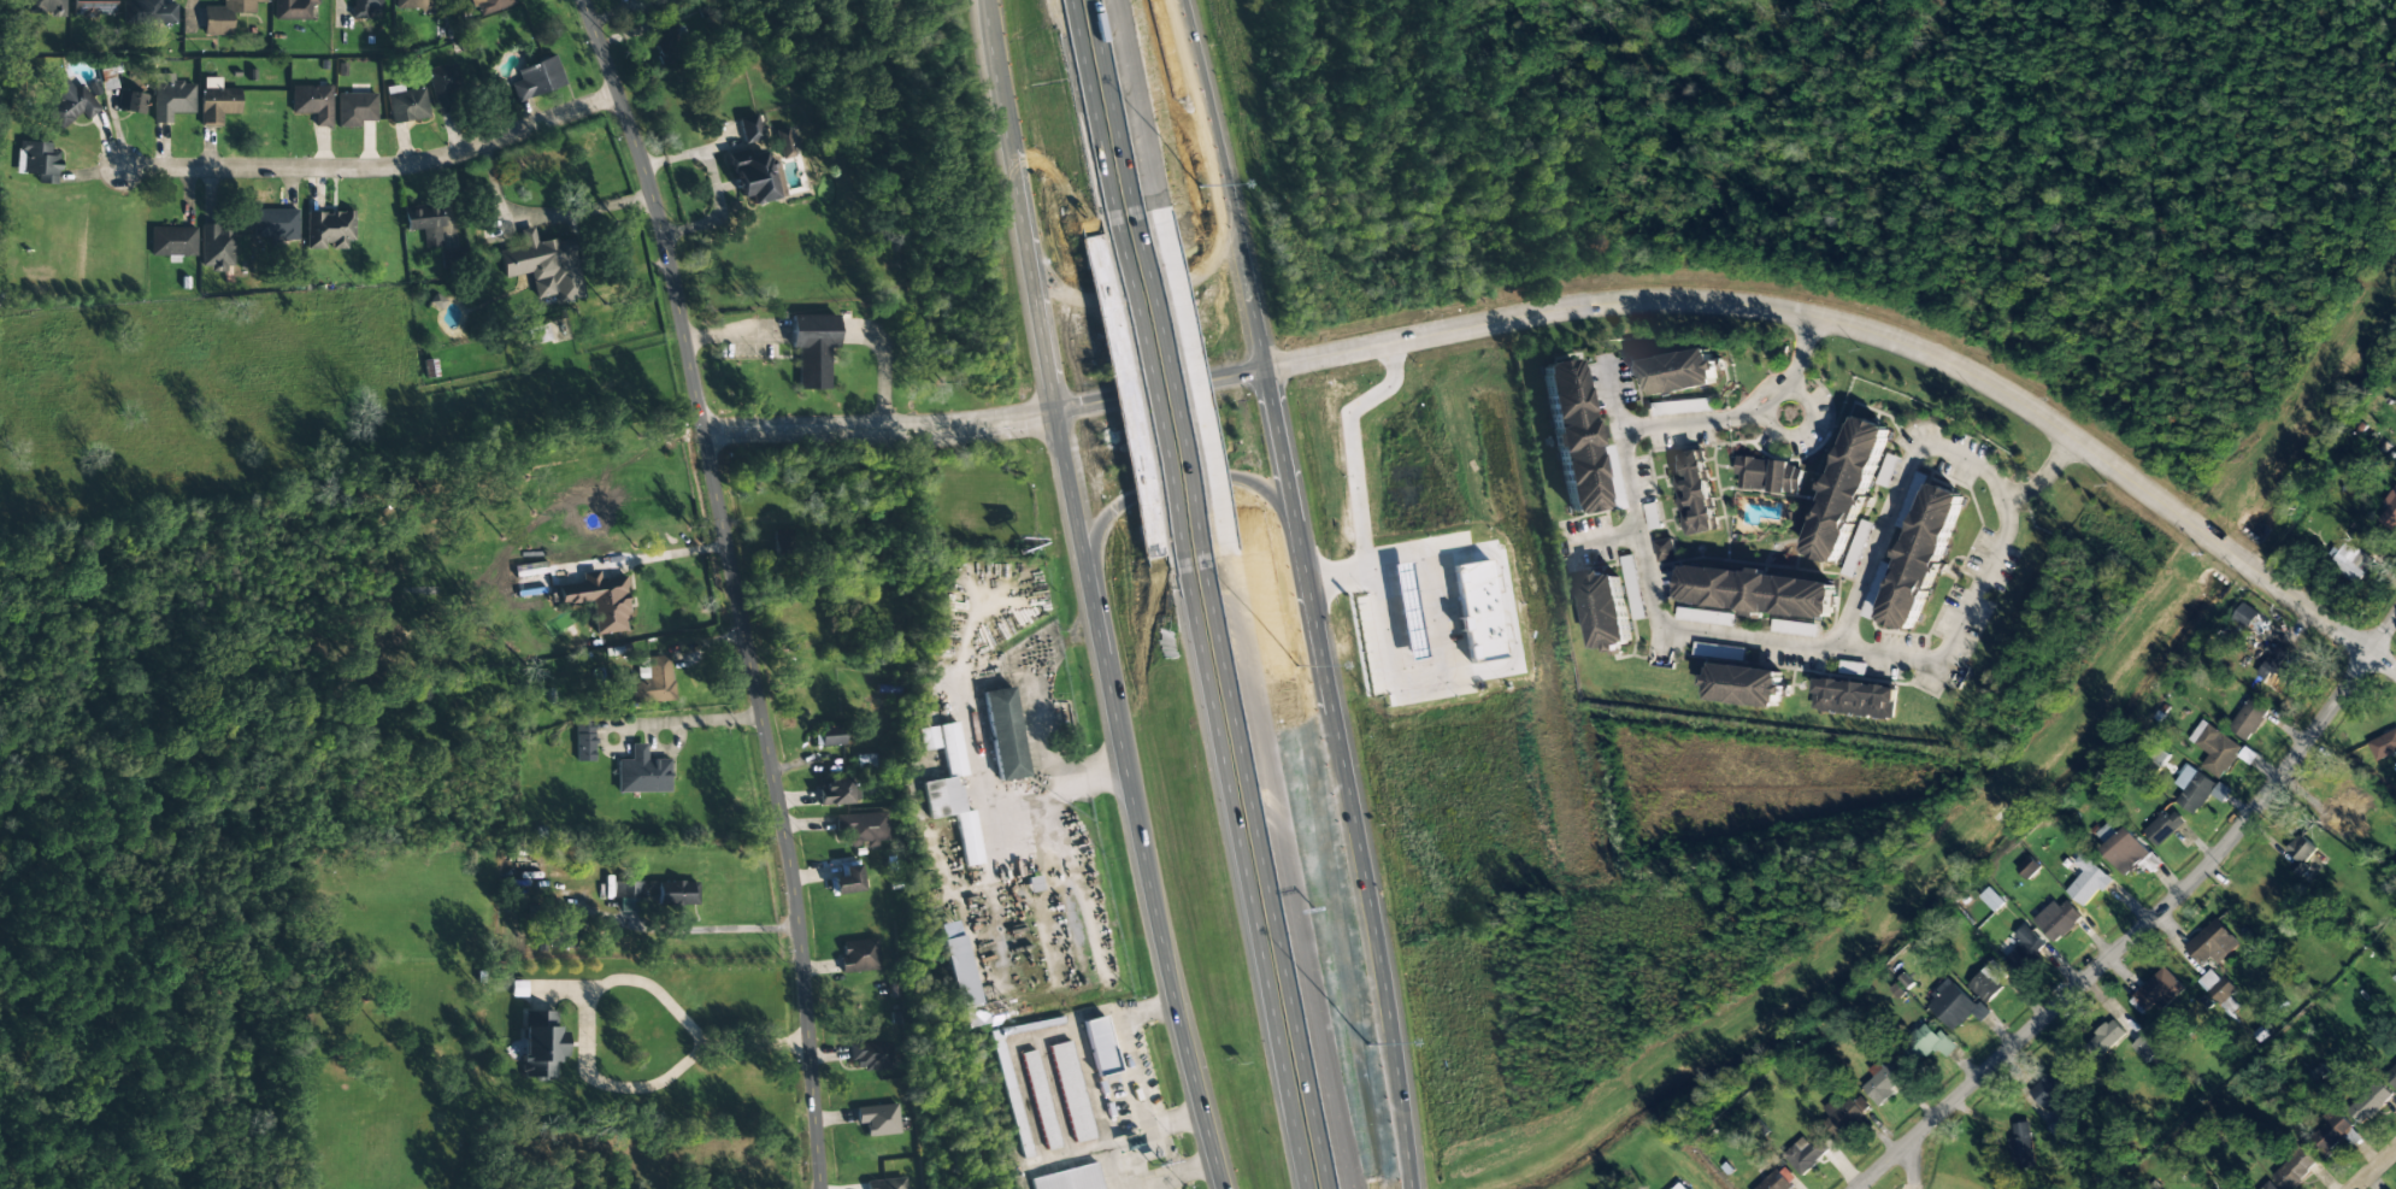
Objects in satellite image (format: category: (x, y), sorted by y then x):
building: (649, 0)
building: (416, 4)
building: (93, 6)
building: (490, 6)
building: (45, 7)
building: (364, 7)
building: (293, 8)
building: (147, 12)
building: (225, 16)
building: (665, 39)
building: (537, 78)
building: (445, 88)
building: (171, 100)
building: (217, 101)
building: (134, 102)
building: (313, 102)
building: (406, 104)
building: (70, 105)
road: (1113, 106)
building: (355, 108)
road: (1087, 110)
building: (749, 129)
building: (783, 143)
building: (37, 161)
road: (376, 167)
building: (757, 176)
road: (1221, 183)
road: (1018, 206)
road: (658, 212)
building: (424, 223)
building: (275, 224)
building: (329, 229)
building: (216, 247)
building: (449, 259)
building: (544, 266)
road: (1146, 290)
road: (1861, 329)
building: (536, 335)
building: (813, 348)
building: (1679, 372)
road: (1168, 385)
road: (1158, 390)
road: (1144, 393)
road: (1612, 400)
building: (1679, 407)
road: (877, 428)
road: (1802, 430)
building: (1571, 435)
building: (1770, 475)
road: (2043, 478)
road: (1178, 485)
building: (1848, 487)
building: (1692, 493)
building: (1614, 495)
building: (2390, 508)
building: (782, 541)
building: (1856, 548)
building: (1666, 549)
building: (1923, 555)
building: (2351, 563)
building: (1633, 587)
building: (1876, 589)
building: (1758, 591)
building: (600, 601)
building: (1405, 611)
building: (1477, 611)
building: (1607, 612)
building: (1705, 616)
building: (2249, 618)
road: (1823, 643)
road: (2383, 660)
building: (2276, 670)
building: (652, 681)
building: (1746, 684)
building: (1854, 697)
building: (2248, 719)
building: (1005, 734)
building: (828, 736)
building: (926, 738)
building: (584, 741)
building: (2383, 746)
building: (2215, 748)
building: (952, 749)
building: (2159, 755)
building: (864, 760)
building: (642, 773)
road: (1343, 777)
building: (2192, 789)
building: (836, 791)
road: (1132, 802)
road: (778, 807)
building: (2347, 812)
building: (2162, 828)
building: (861, 829)
building: (969, 841)
building: (2121, 847)
building: (2301, 855)
building: (2151, 863)
building: (2029, 867)
road: (1264, 875)
road: (1243, 877)
building: (847, 881)
building: (2088, 881)
building: (672, 893)
building: (629, 895)
building: (1991, 899)
building: (2058, 919)
road: (2148, 922)
building: (563, 937)
building: (2212, 943)
building: (2026, 946)
building: (858, 955)
building: (1989, 981)
building: (966, 982)
building: (2159, 990)
building: (1955, 1006)
building: (2103, 1038)
building: (1930, 1043)
building: (540, 1044)
building: (1099, 1046)
building: (2145, 1047)
building: (871, 1055)
building: (2391, 1075)
building: (1882, 1082)
building: (2053, 1084)
building: (1071, 1091)
building: (1011, 1096)
building: (1040, 1101)
building: (2371, 1102)
building: (1847, 1116)
building: (878, 1119)
building: (2331, 1131)
building: (2021, 1146)
building: (1806, 1154)
road: (1915, 1162)
building: (2295, 1169)
road: (2374, 1169)
building: (1071, 1179)
building: (1776, 1182)
building: (885, 1184)
building: (2268, 1185)
building: (1680, 1187)

